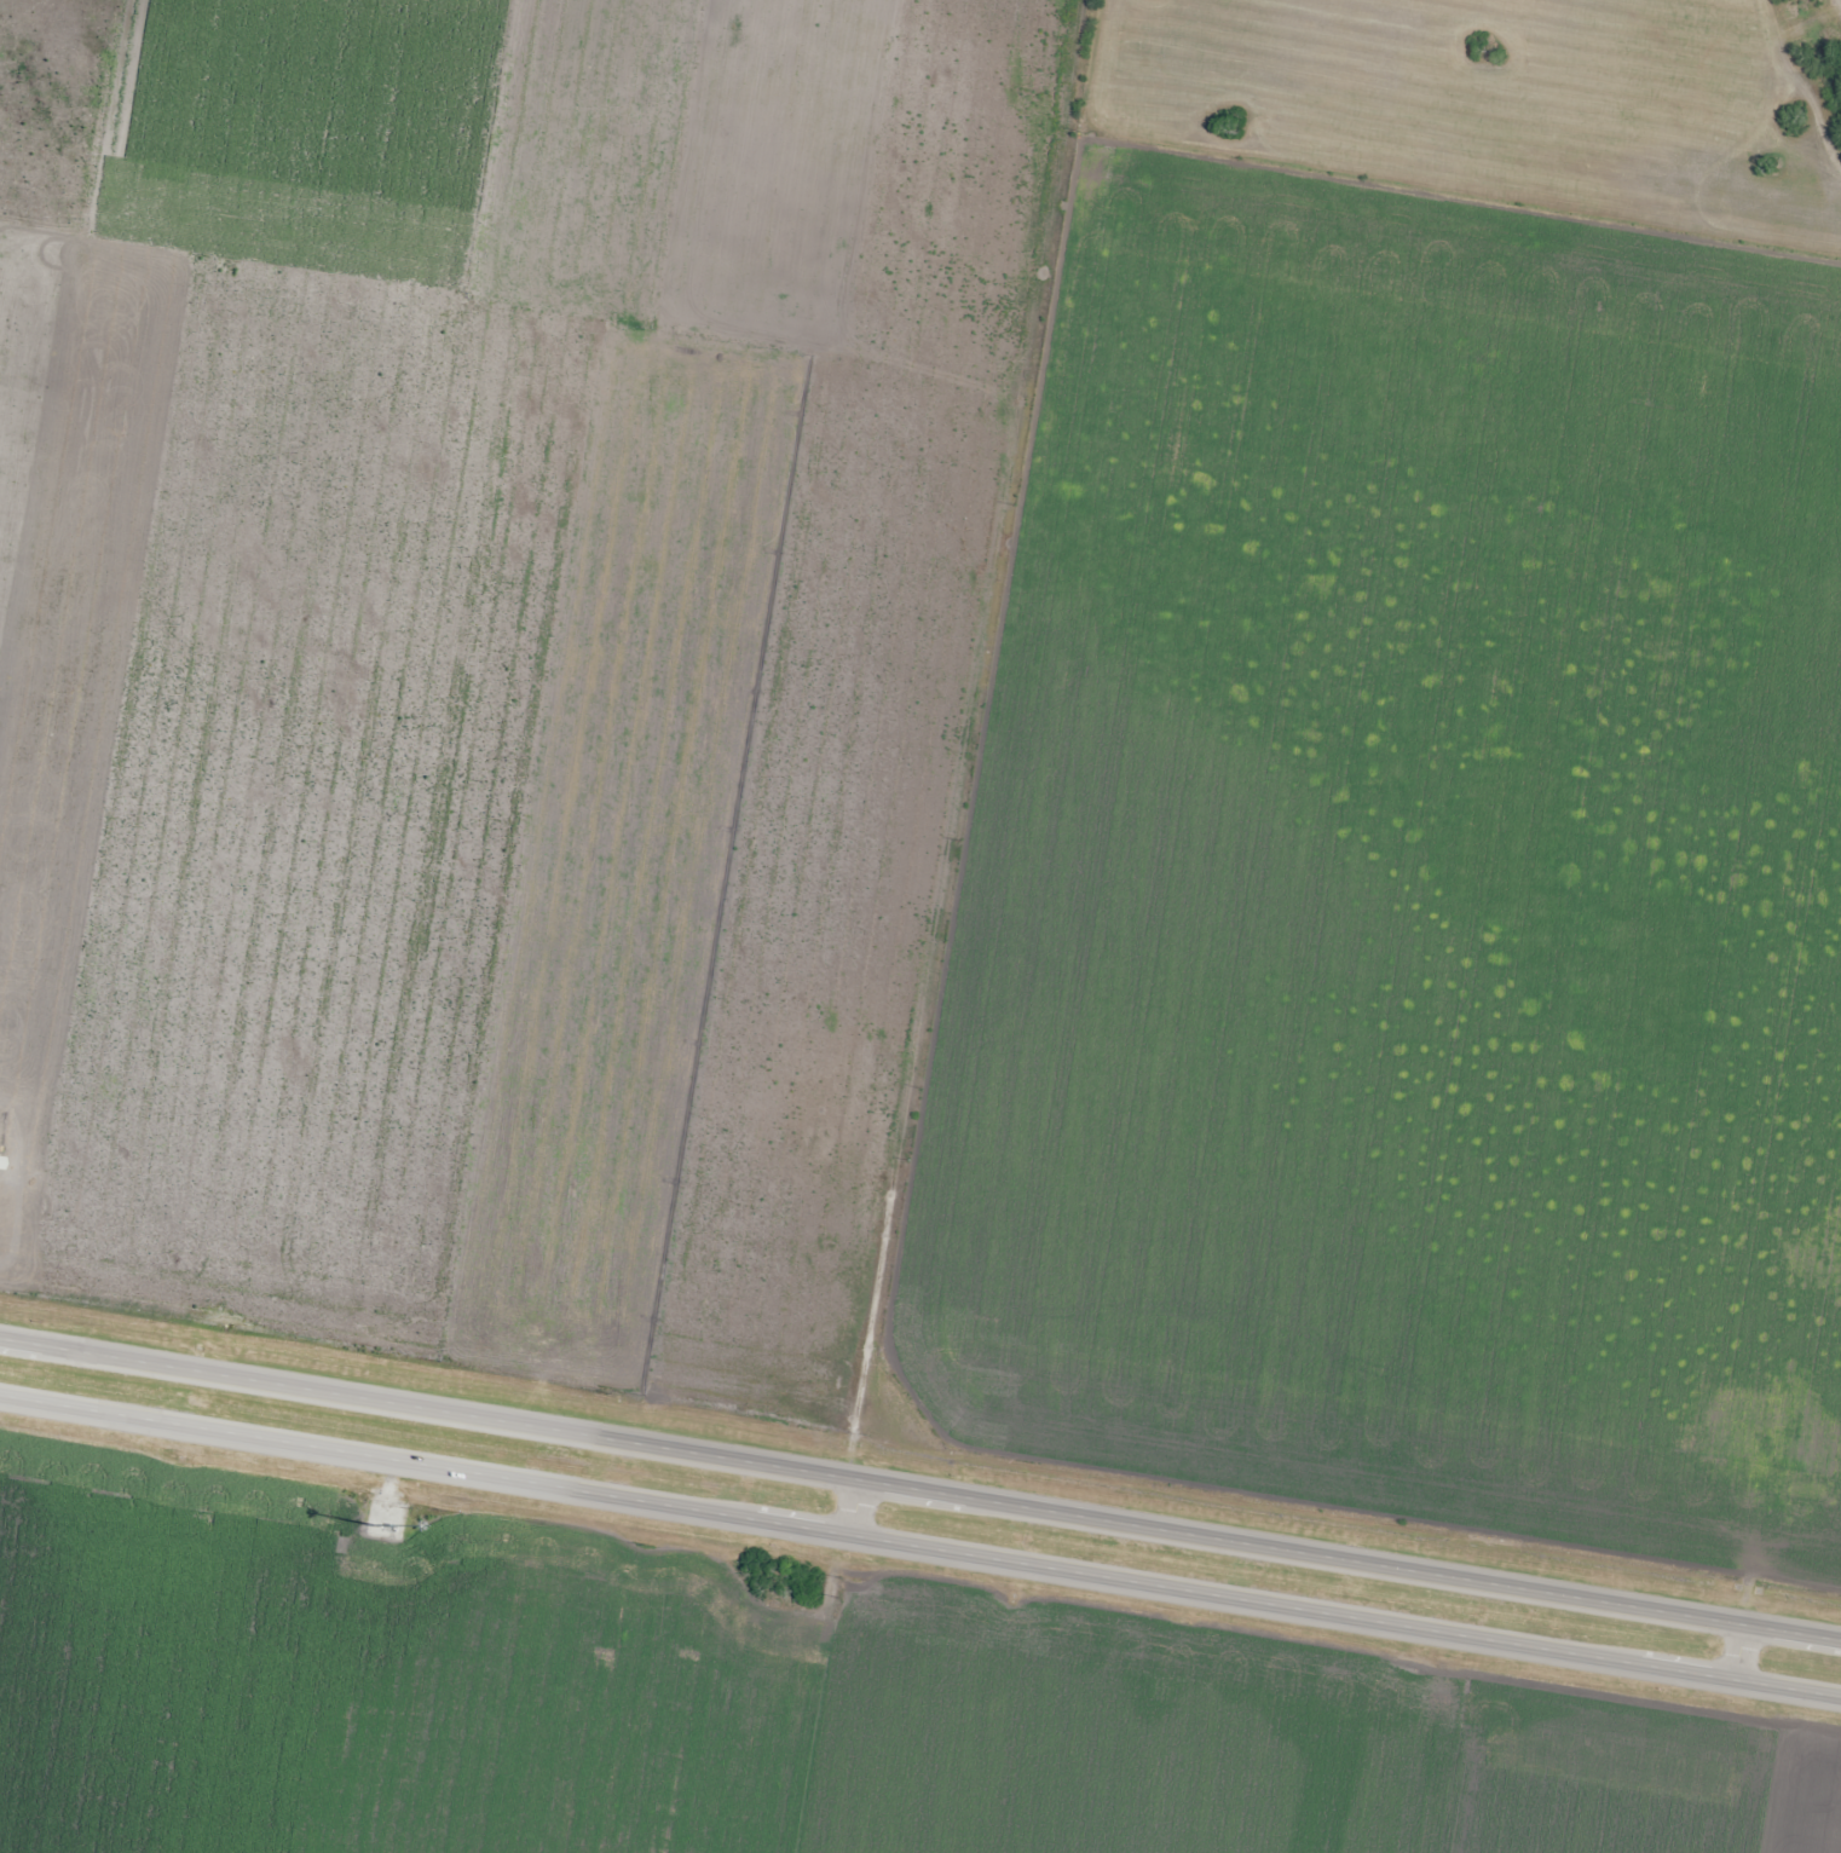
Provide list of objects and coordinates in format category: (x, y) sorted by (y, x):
road: (921, 1488)
road: (853, 1506)
road: (919, 1546)
road: (1737, 1651)

